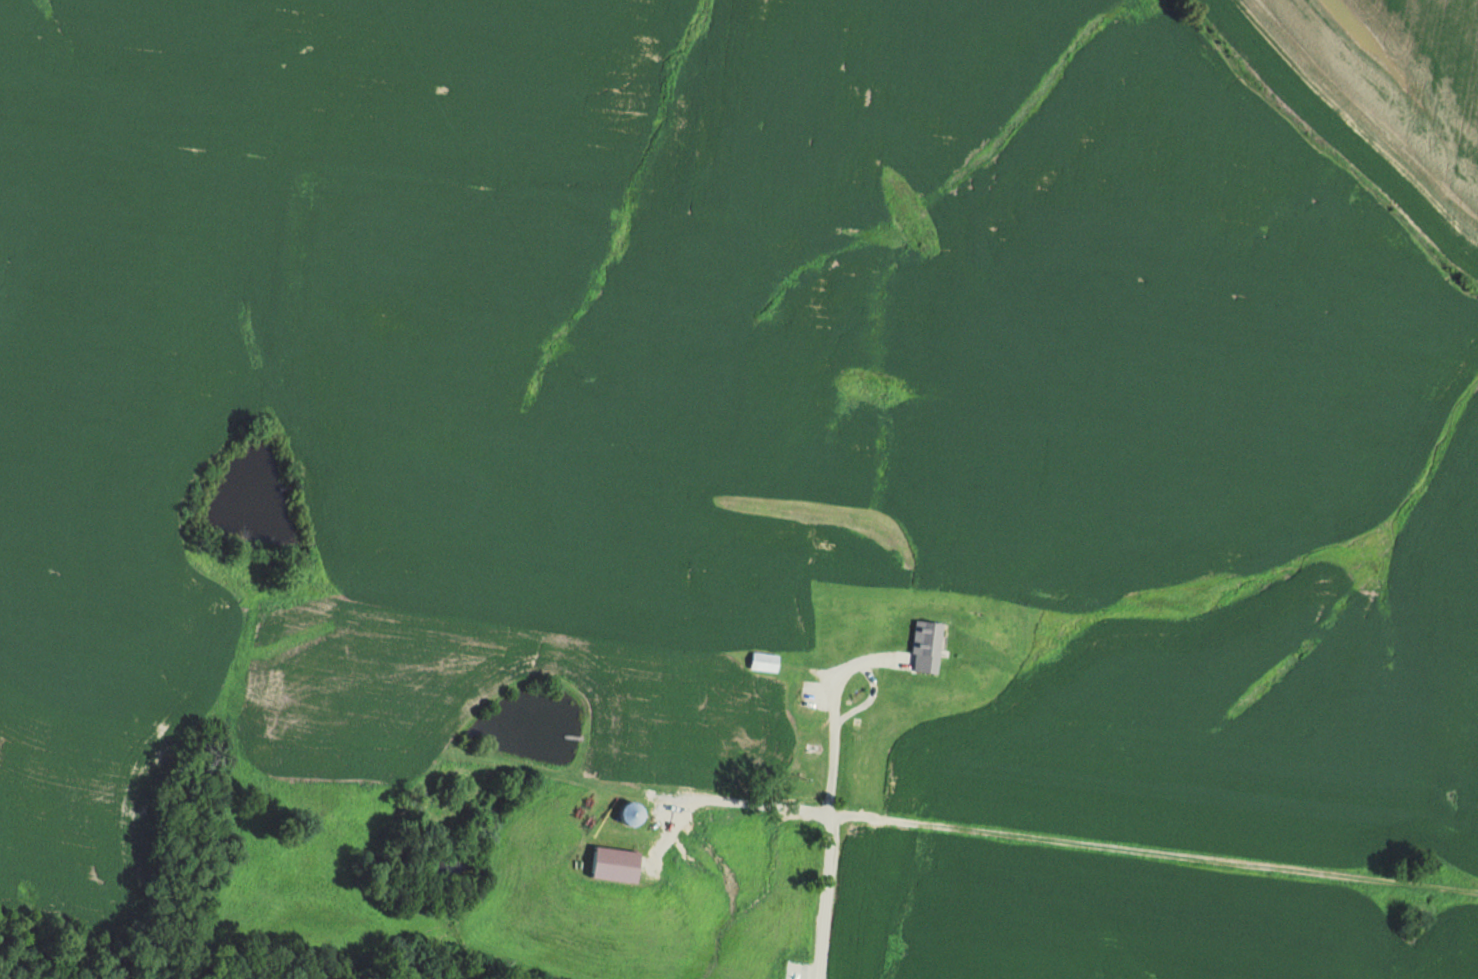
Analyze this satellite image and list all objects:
building: (766, 661)
building: (865, 766)
building: (635, 813)
building: (619, 863)
road: (1124, 914)

